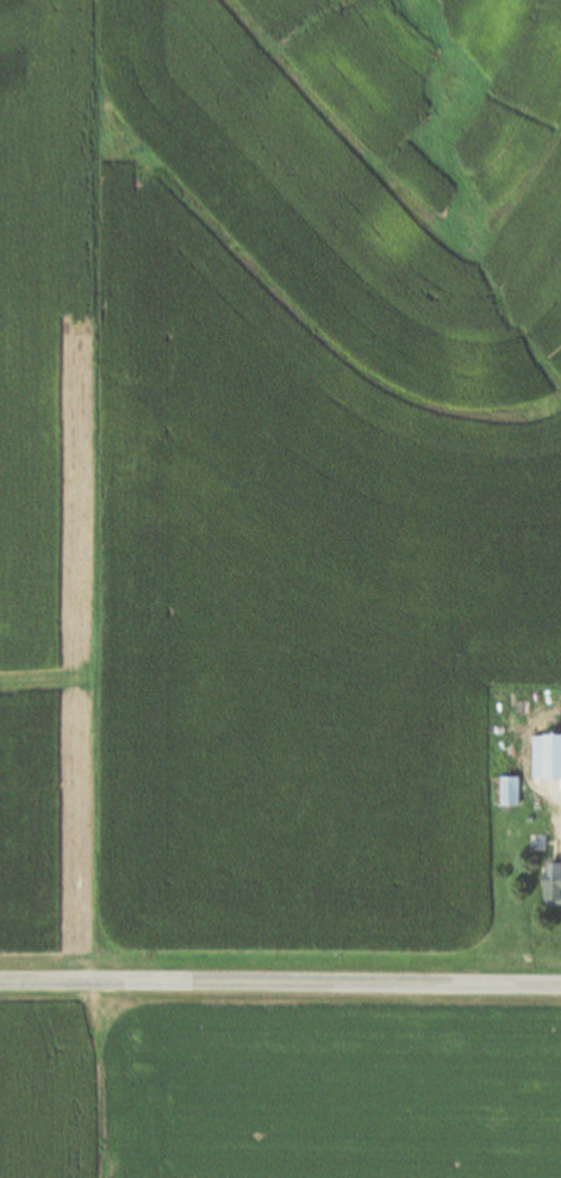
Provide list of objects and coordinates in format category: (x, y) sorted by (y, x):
building: (548, 757)
building: (511, 790)
building: (538, 844)
building: (554, 885)
road: (280, 984)

